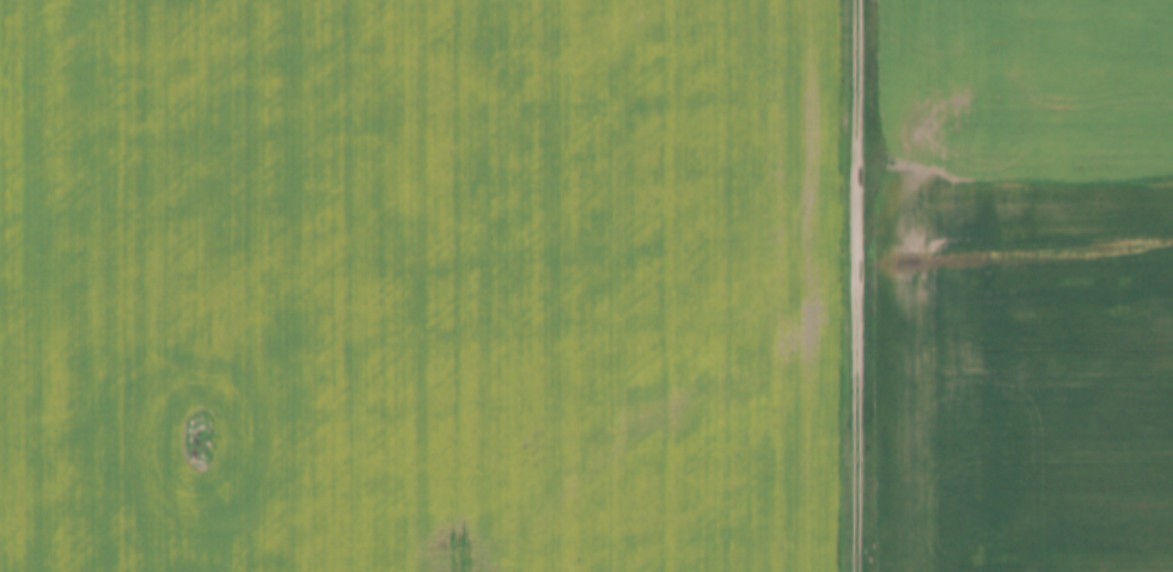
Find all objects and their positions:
road: (862, 285)

